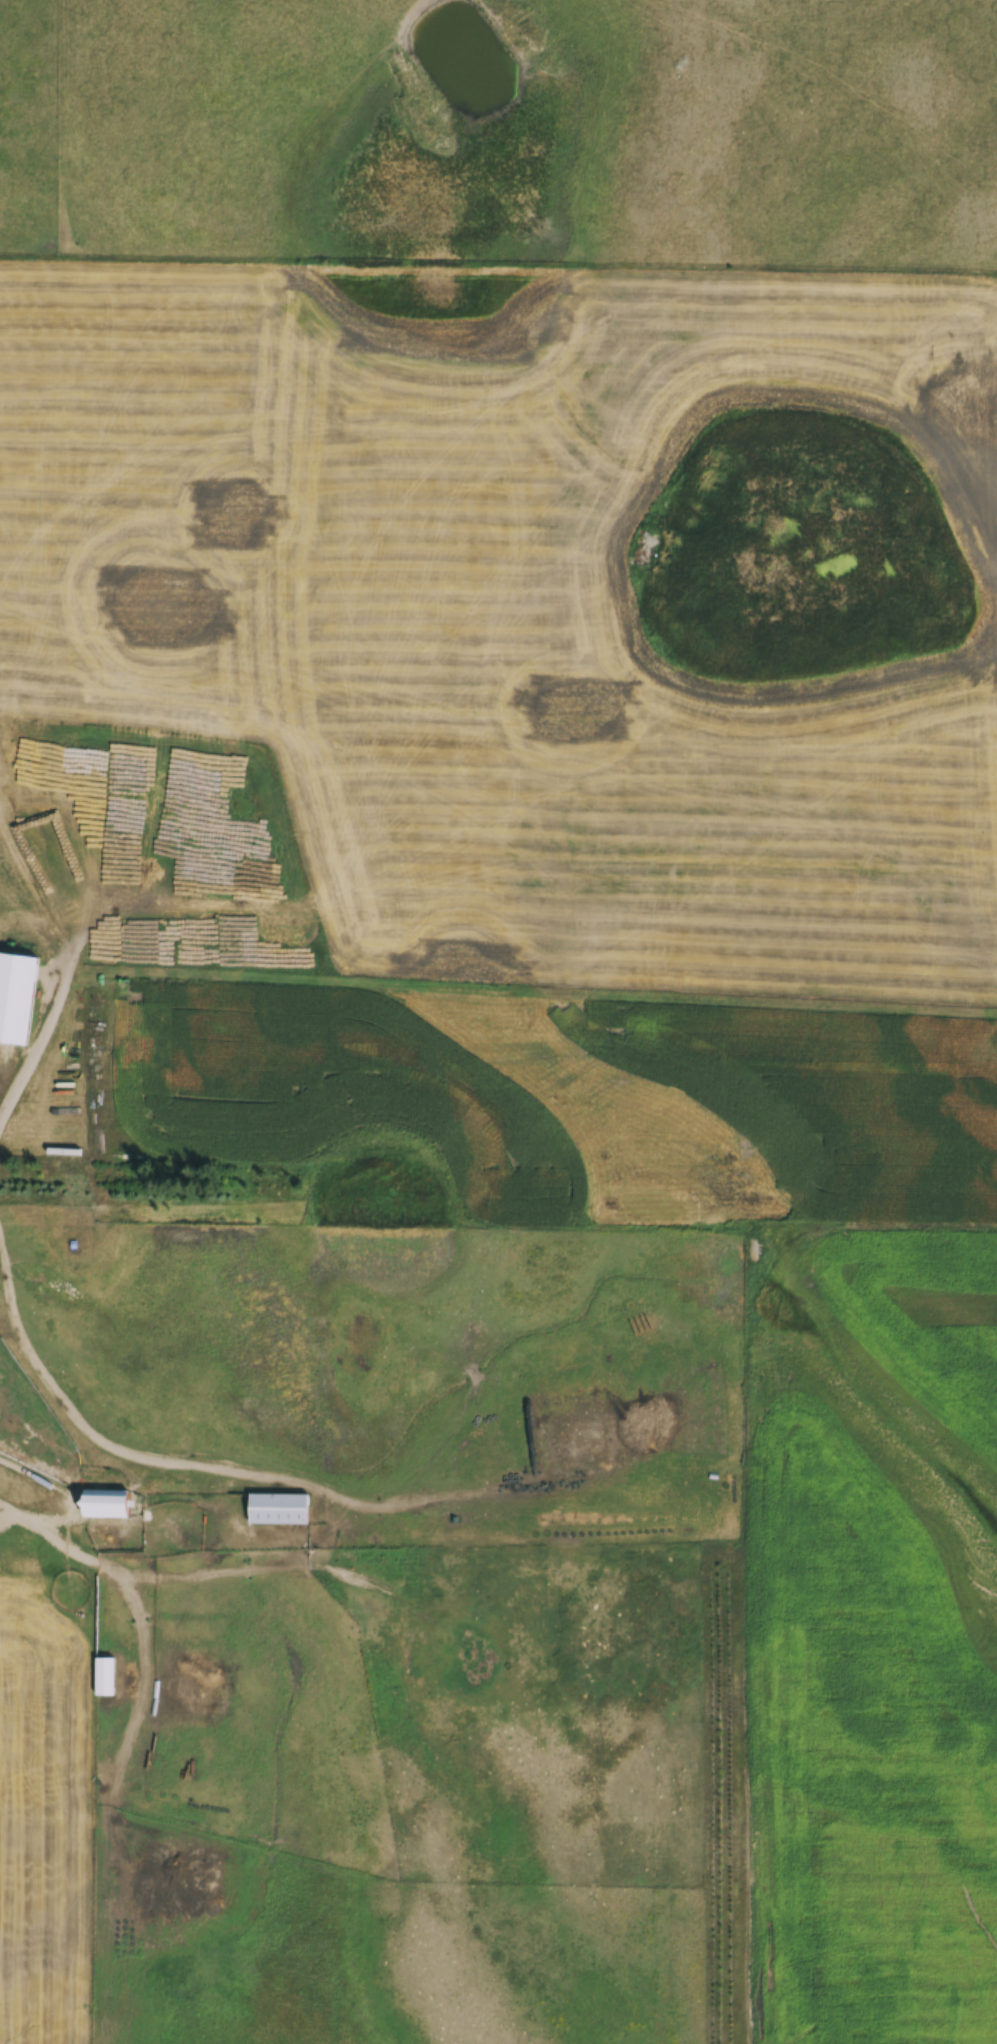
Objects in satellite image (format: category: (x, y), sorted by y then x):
building: (72, 1233)
building: (107, 1503)
building: (279, 1508)
building: (104, 1676)

